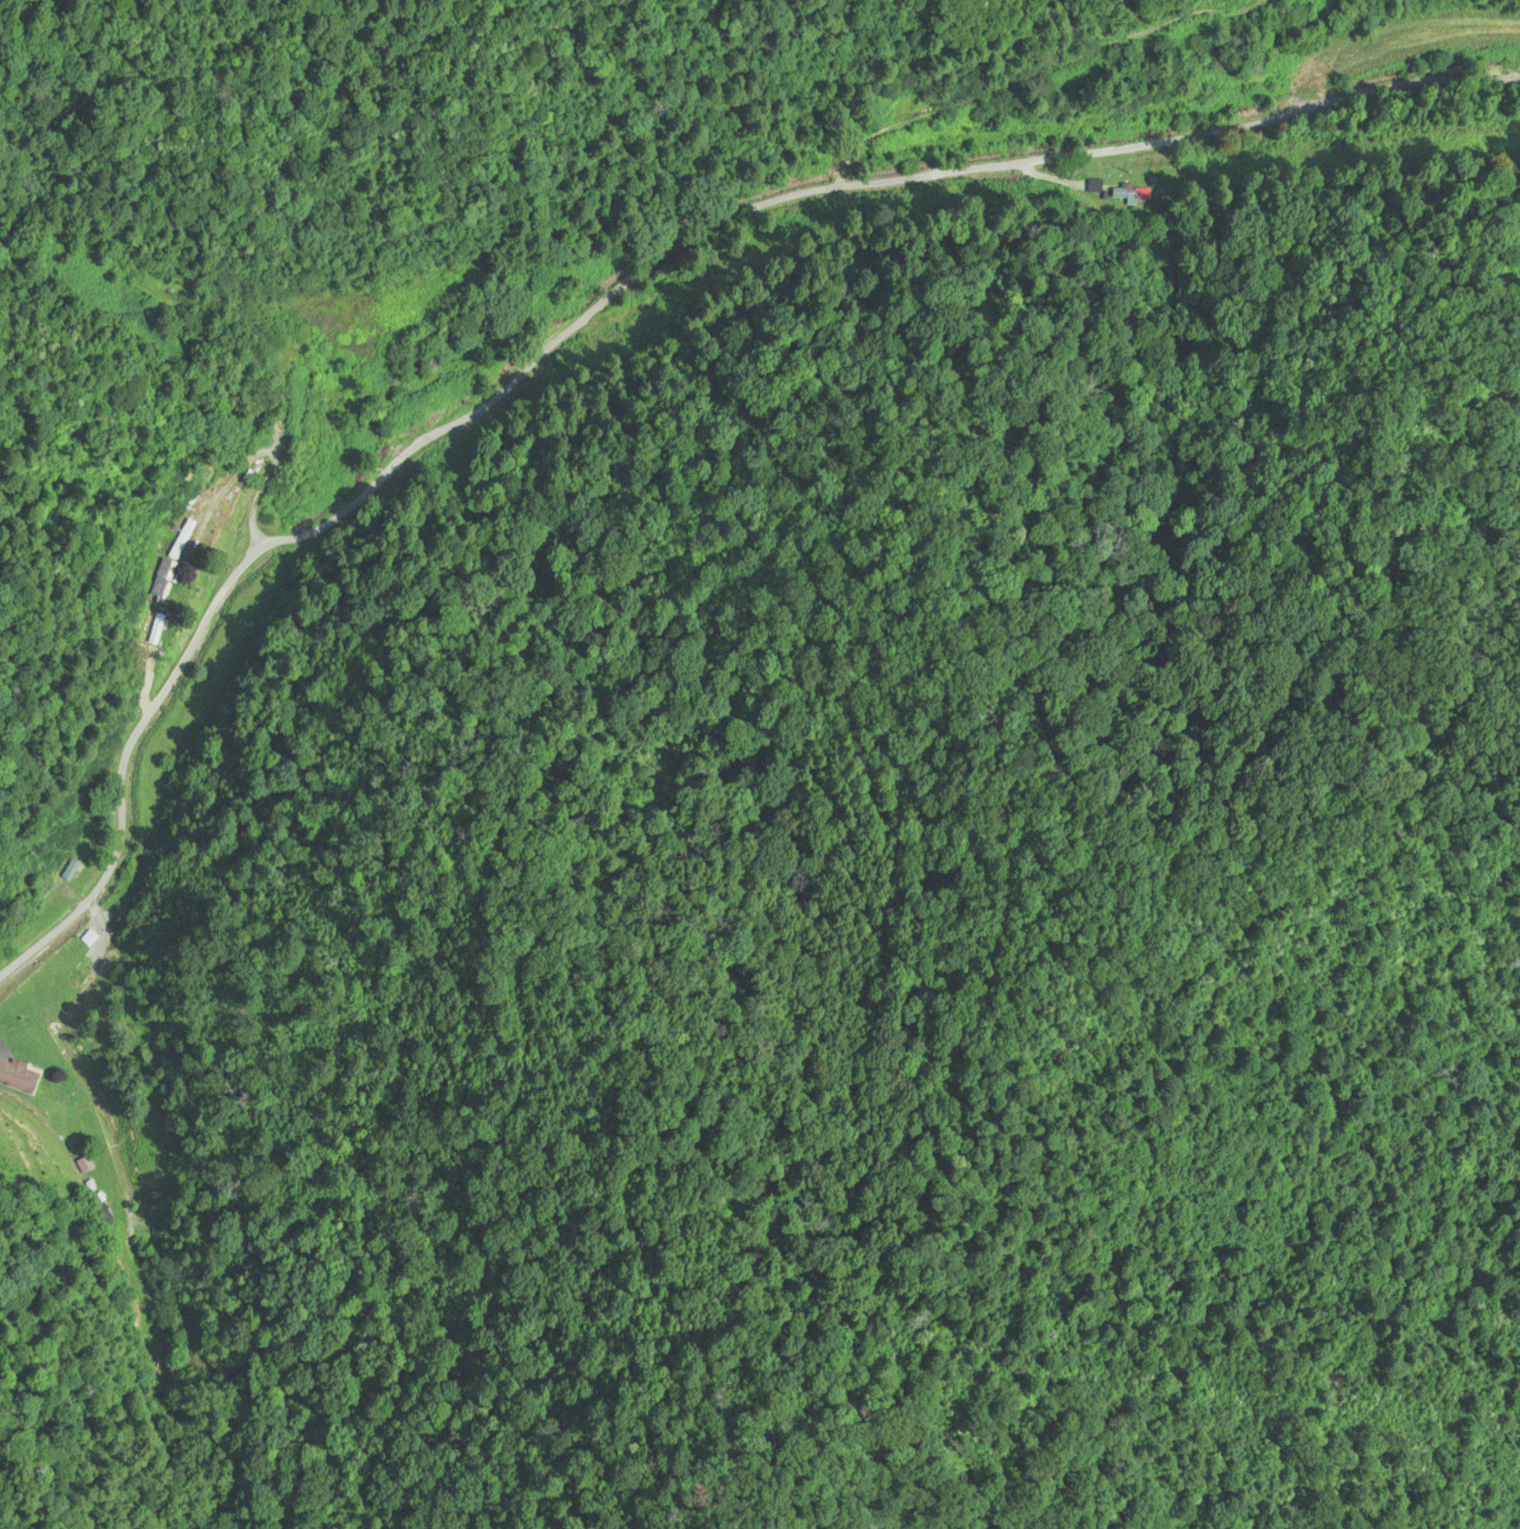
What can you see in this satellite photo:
road: (1451, 200)
road: (605, 291)
building: (165, 580)
building: (155, 627)
building: (73, 869)
building: (19, 1076)
building: (86, 1165)

